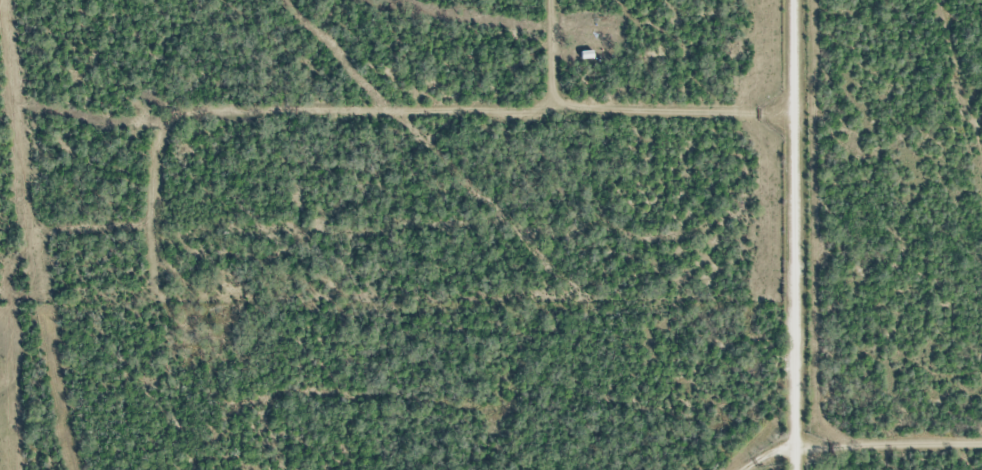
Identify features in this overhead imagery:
road: (791, 235)

